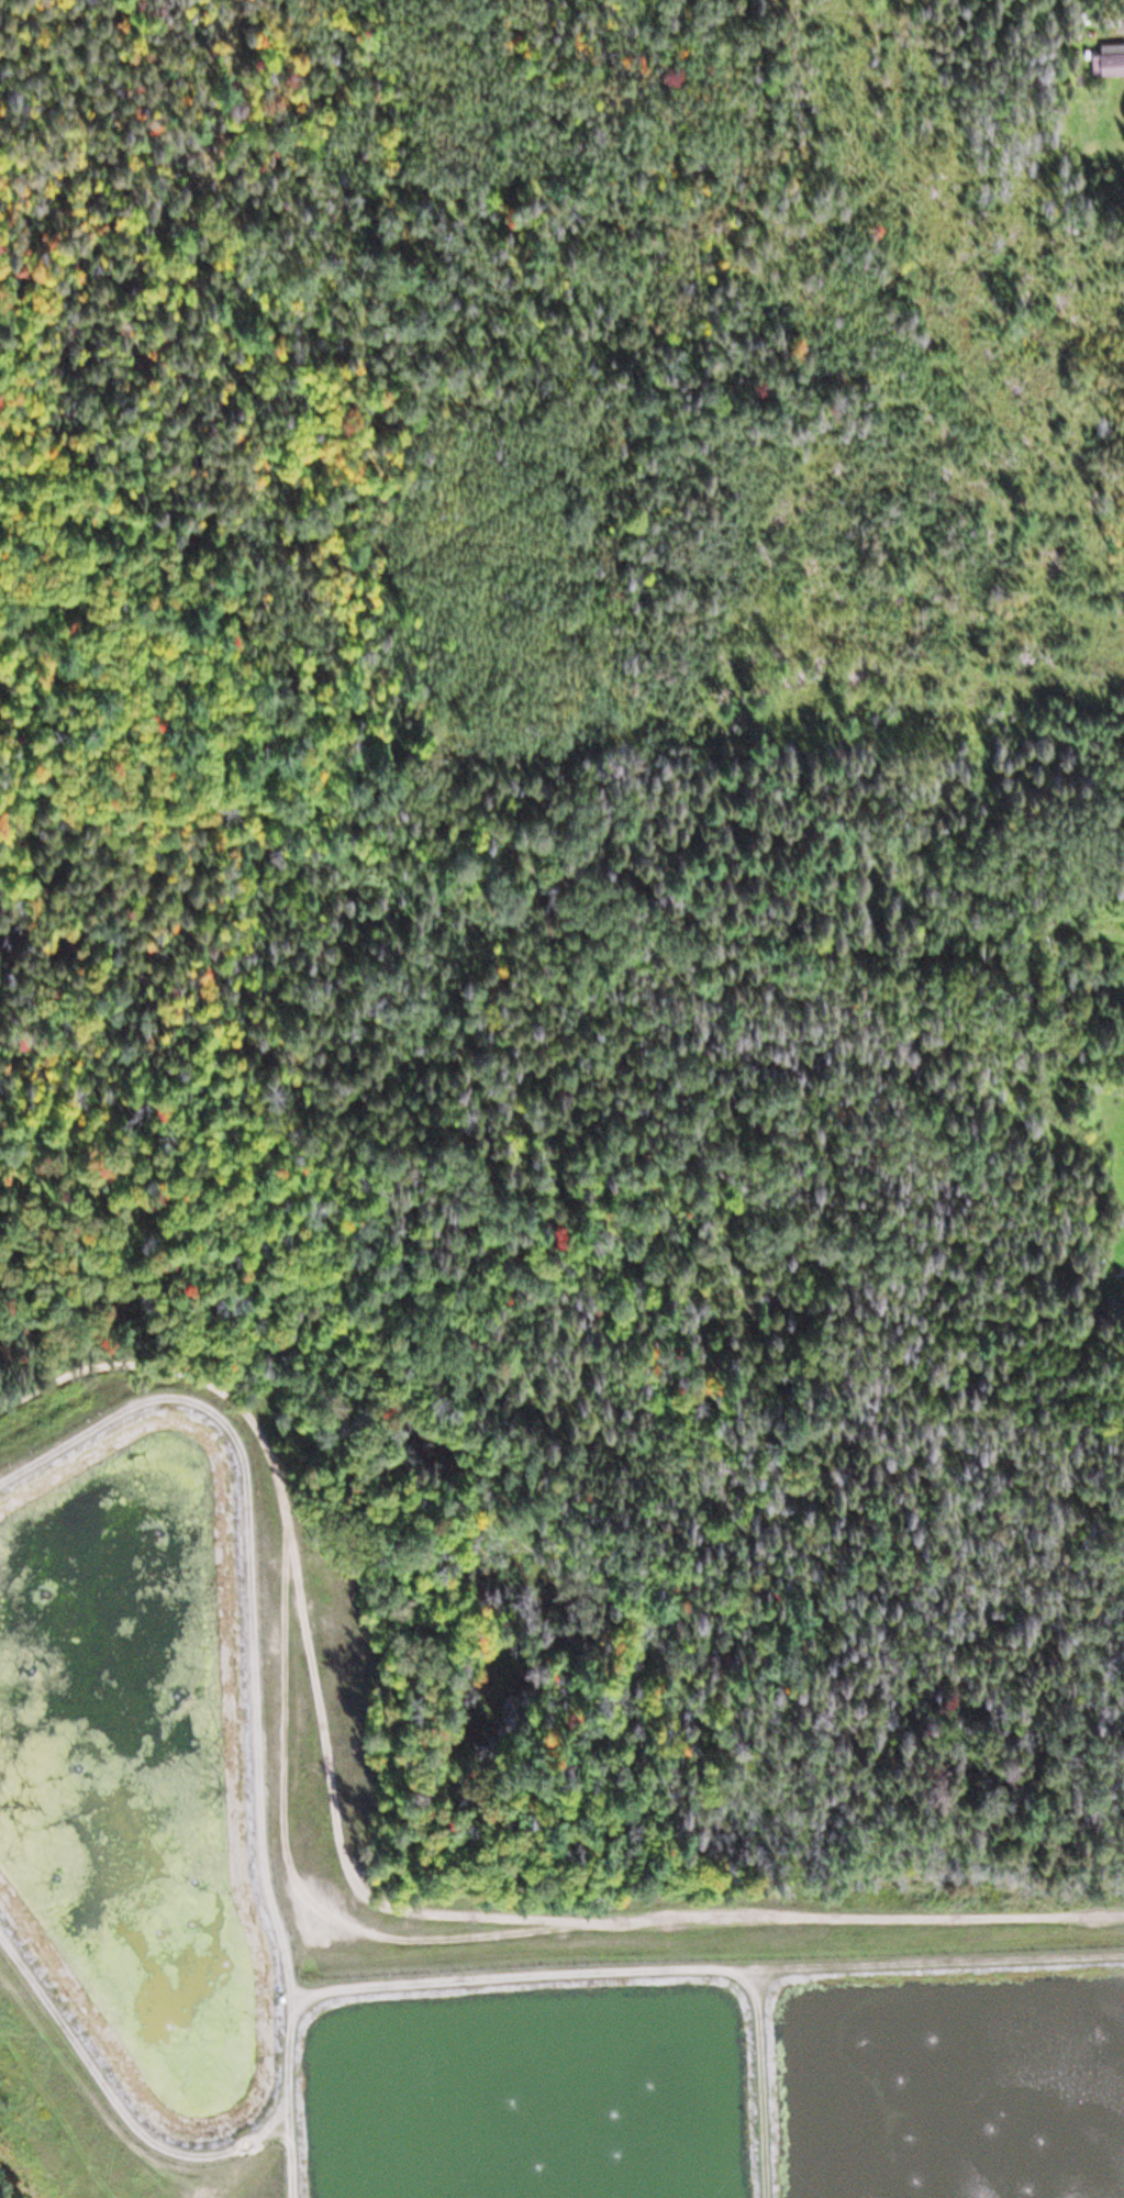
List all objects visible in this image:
building: (1123, 44)
building: (1110, 57)
wastewater plant: (442, 1917)

